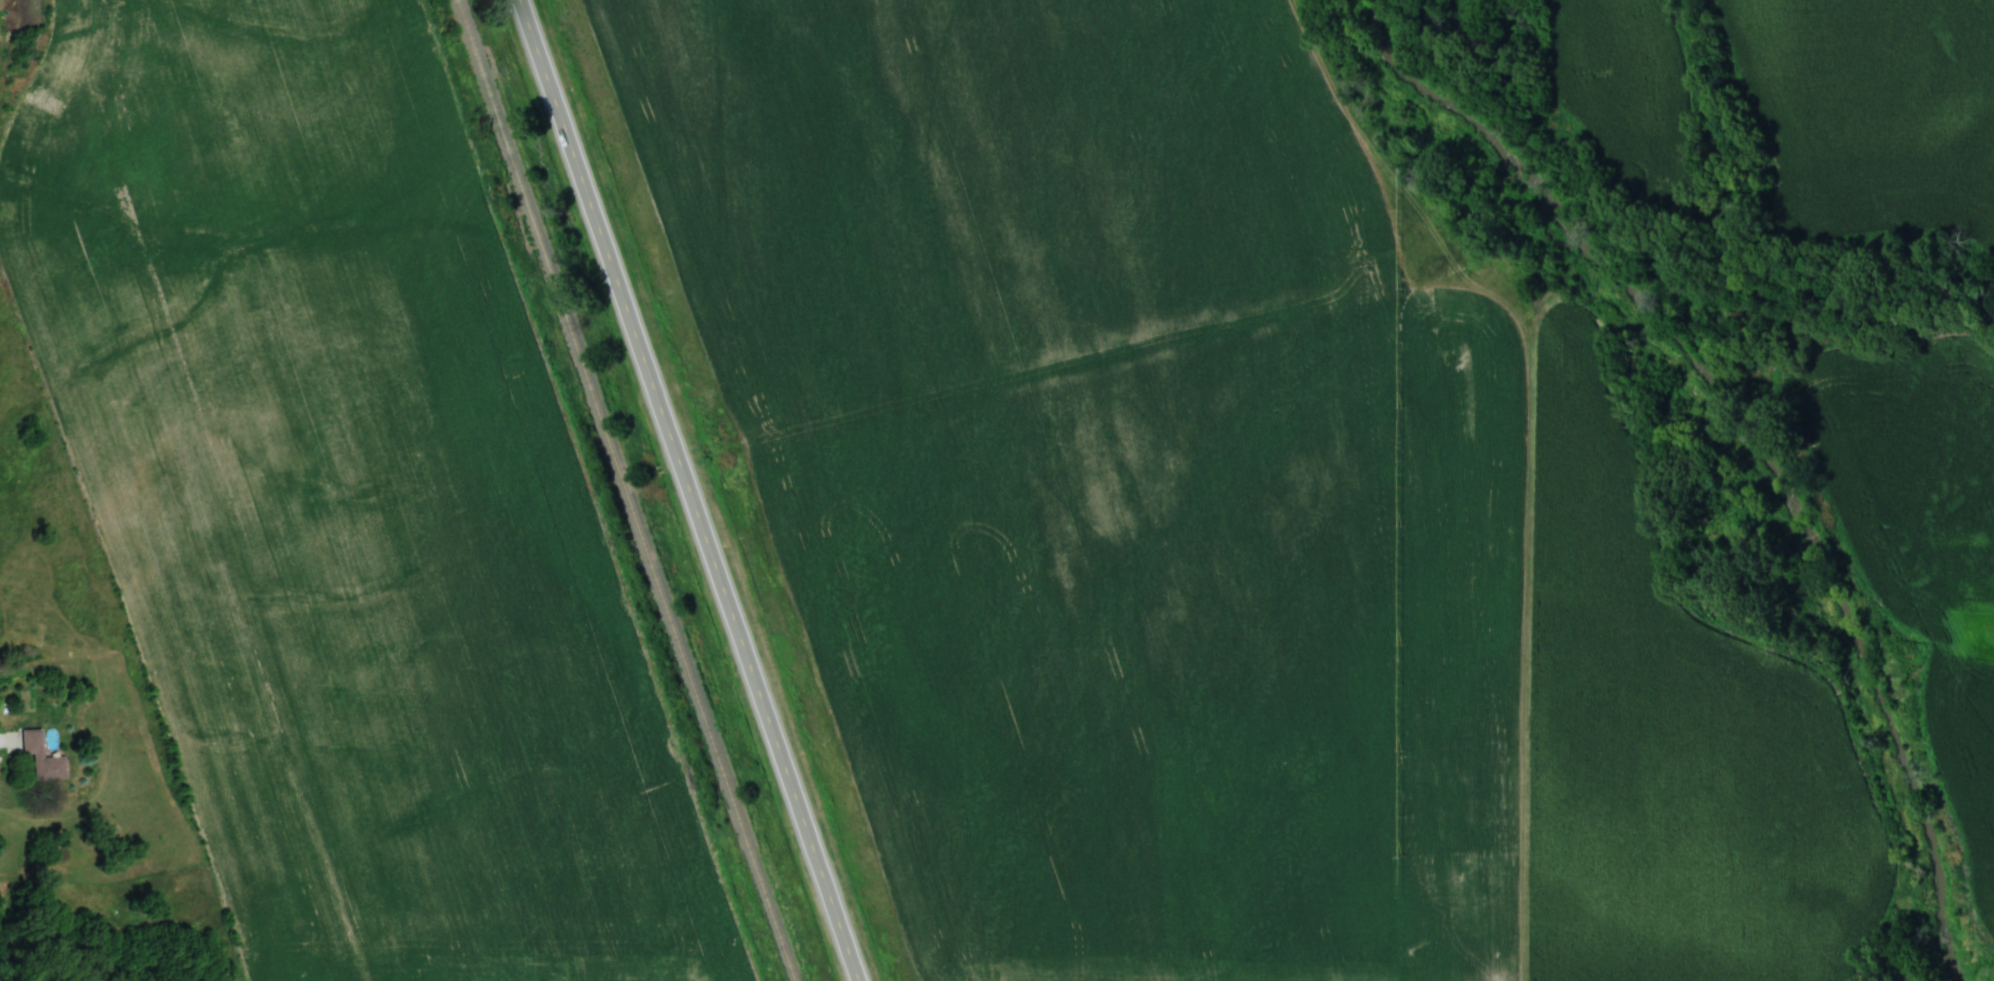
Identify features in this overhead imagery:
river: (1742, 435)
railway: (624, 490)
road: (691, 490)
road: (1, 738)
building: (40, 757)

